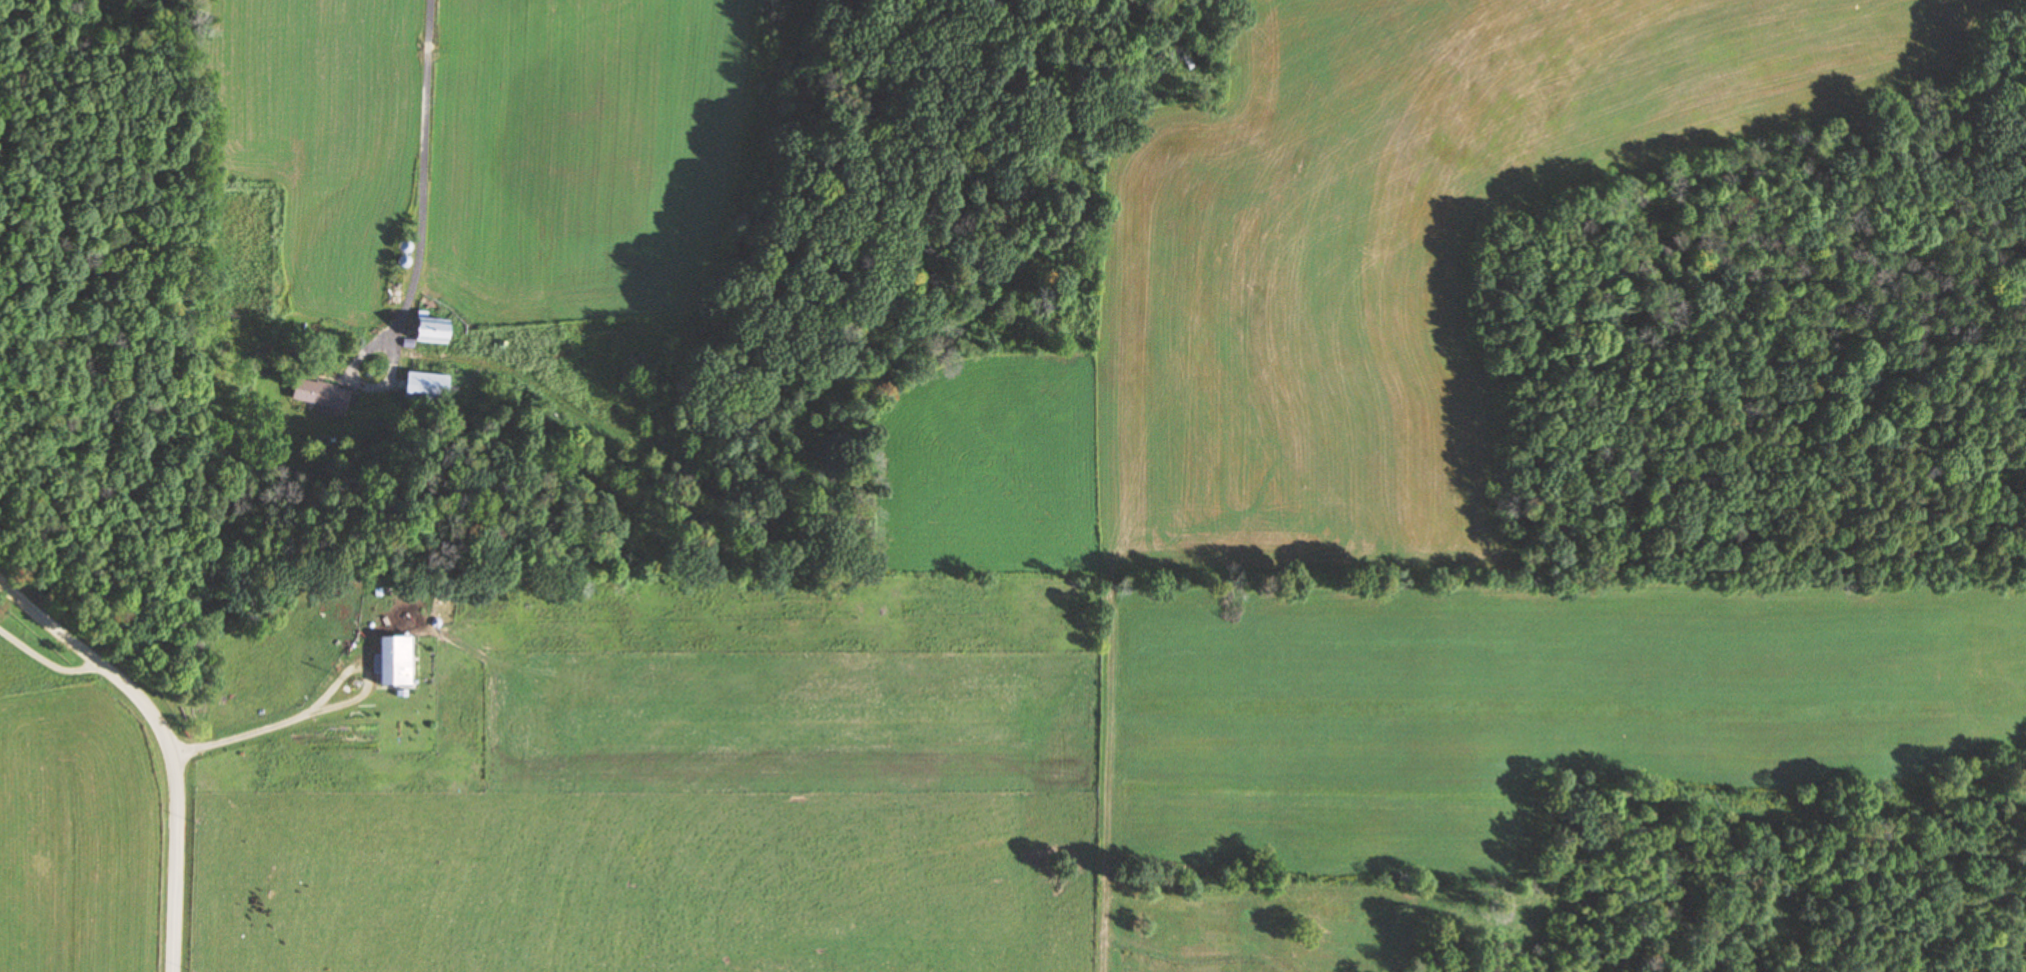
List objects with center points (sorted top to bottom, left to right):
road: (281, 73)
road: (419, 176)
building: (425, 387)
road: (367, 389)
building: (323, 396)
building: (397, 660)
road: (161, 743)

